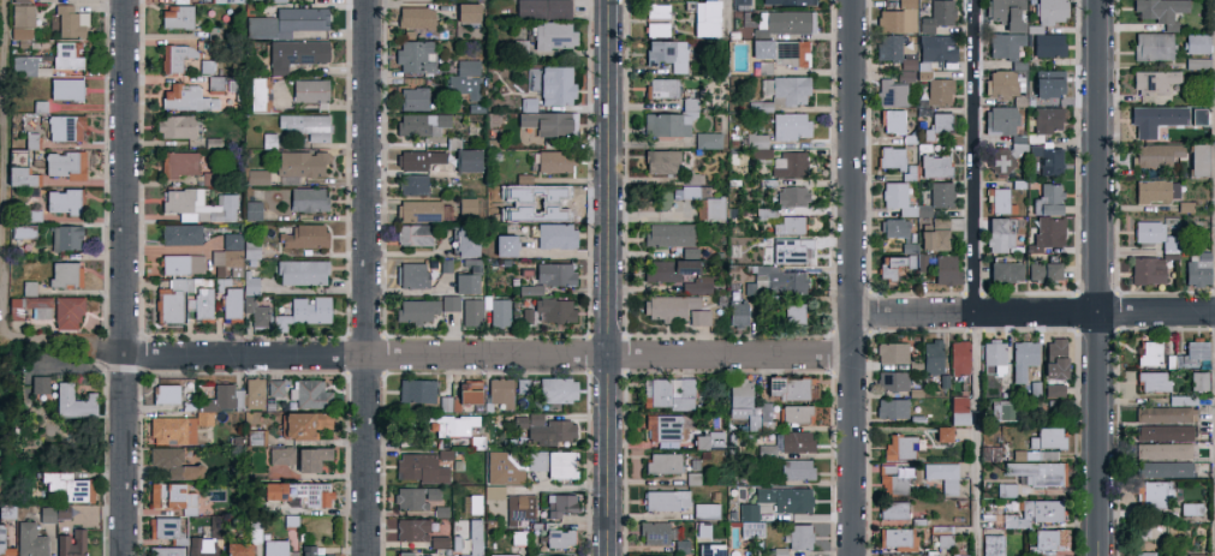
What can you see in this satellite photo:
building: (224, 0)
building: (20, 1)
building: (739, 1)
building: (790, 1)
building: (541, 8)
building: (655, 10)
building: (1050, 11)
building: (1159, 11)
building: (465, 12)
road: (727, 12)
building: (1005, 13)
building: (22, 14)
building: (174, 16)
building: (701, 16)
building: (936, 16)
building: (413, 17)
building: (898, 18)
building: (785, 20)
building: (69, 22)
building: (285, 22)
building: (654, 29)
building: (552, 35)
building: (22, 36)
building: (1046, 42)
building: (1196, 43)
building: (1003, 44)
building: (1151, 46)
building: (760, 47)
building: (887, 47)
building: (790, 52)
building: (294, 53)
building: (665, 53)
building: (62, 55)
building: (174, 55)
building: (927, 55)
building: (413, 56)
building: (1193, 62)
building: (23, 64)
building: (464, 80)
building: (1153, 80)
building: (1047, 82)
building: (1001, 83)
building: (555, 84)
building: (661, 86)
building: (64, 89)
building: (309, 90)
building: (787, 90)
building: (939, 91)
building: (256, 92)
building: (891, 92)
building: (185, 97)
building: (411, 98)
building: (476, 107)
building: (761, 107)
building: (1047, 119)
building: (669, 120)
building: (892, 120)
building: (1000, 120)
building: (418, 122)
building: (940, 122)
building: (1150, 122)
building: (554, 124)
building: (174, 125)
building: (304, 125)
building: (790, 125)
building: (64, 127)
building: (268, 139)
building: (707, 139)
building: (212, 142)
building: (757, 145)
building: (1155, 154)
road: (977, 156)
building: (889, 157)
building: (417, 159)
building: (465, 159)
building: (1048, 159)
building: (1197, 159)
building: (1001, 160)
building: (552, 161)
building: (660, 161)
building: (299, 162)
building: (177, 163)
building: (62, 165)
building: (790, 165)
building: (934, 166)
building: (18, 177)
building: (256, 177)
building: (692, 178)
building: (411, 184)
building: (1156, 190)
building: (689, 191)
building: (763, 192)
building: (940, 193)
building: (792, 196)
building: (305, 198)
building: (1048, 198)
building: (901, 199)
building: (61, 201)
building: (1000, 201)
building: (198, 205)
building: (464, 207)
building: (713, 208)
building: (252, 210)
building: (423, 210)
building: (766, 213)
building: (31, 215)
building: (791, 225)
building: (893, 227)
building: (22, 231)
building: (1048, 231)
road: (4, 232)
building: (179, 233)
building: (1000, 233)
building: (412, 234)
building: (554, 234)
building: (668, 234)
building: (1154, 234)
building: (304, 235)
building: (934, 235)
building: (64, 237)
building: (231, 240)
building: (464, 241)
building: (504, 244)
building: (249, 249)
building: (791, 253)
building: (225, 259)
building: (921, 261)
building: (181, 264)
building: (893, 264)
building: (1197, 268)
building: (667, 269)
building: (945, 270)
building: (1005, 270)
building: (1043, 270)
building: (1146, 270)
building: (300, 271)
building: (554, 273)
building: (64, 274)
building: (411, 275)
road: (125, 277)
road: (368, 277)
road: (606, 277)
road: (853, 277)
road: (1097, 277)
building: (780, 280)
building: (465, 281)
building: (249, 283)
building: (697, 285)
building: (28, 287)
building: (530, 289)
building: (228, 298)
building: (172, 299)
building: (199, 301)
building: (32, 305)
building: (667, 306)
building: (424, 307)
building: (498, 310)
building: (553, 310)
building: (303, 311)
building: (471, 311)
road: (1034, 311)
building: (66, 312)
building: (257, 312)
building: (792, 312)
building: (737, 313)
building: (525, 315)
building: (698, 317)
road: (483, 335)
road: (588, 348)
building: (891, 352)
building: (1148, 352)
road: (383, 353)
road: (489, 354)
building: (993, 354)
building: (1189, 354)
building: (930, 355)
building: (958, 357)
building: (1022, 358)
building: (1053, 359)
road: (486, 370)
building: (892, 379)
building: (1151, 381)
building: (1199, 381)
building: (36, 383)
building: (522, 384)
building: (792, 387)
building: (273, 388)
building: (1034, 388)
building: (555, 389)
building: (1053, 389)
building: (415, 390)
building: (499, 391)
building: (165, 393)
building: (251, 393)
building: (466, 393)
building: (669, 393)
building: (310, 394)
building: (738, 397)
building: (70, 401)
building: (216, 402)
building: (443, 403)
building: (891, 407)
building: (958, 409)
building: (1002, 409)
building: (766, 411)
building: (797, 413)
building: (1165, 414)
building: (752, 422)
building: (302, 424)
building: (449, 424)
building: (169, 429)
building: (543, 429)
building: (661, 430)
building: (1163, 431)
building: (940, 434)
road: (975, 434)
building: (1047, 437)
building: (708, 441)
building: (796, 441)
building: (899, 447)
building: (767, 450)
building: (1166, 450)
building: (989, 453)
building: (1046, 455)
building: (299, 458)
building: (172, 462)
building: (550, 462)
building: (662, 462)
building: (419, 467)
building: (501, 468)
building: (796, 468)
building: (1166, 468)
building: (1036, 473)
building: (942, 476)
building: (892, 478)
building: (67, 486)
building: (270, 490)
building: (1005, 490)
building: (493, 491)
building: (1156, 492)
building: (310, 494)
building: (413, 497)
building: (785, 498)
building: (665, 500)
building: (559, 504)
building: (519, 507)
building: (892, 509)
building: (6, 510)
building: (440, 510)
building: (705, 510)
building: (53, 512)
building: (1032, 513)
building: (749, 520)
building: (163, 527)
building: (410, 530)
building: (699, 530)
building: (1159, 530)
building: (653, 533)
building: (799, 536)
building: (472, 537)
building: (512, 537)
building: (0, 538)
building: (559, 538)
building: (897, 538)
building: (29, 540)
building: (439, 542)
building: (1048, 542)
building: (70, 543)
building: (680, 545)
building: (991, 545)
building: (198, 546)
building: (275, 548)
building: (234, 549)
building: (708, 550)
building: (163, 551)
building: (310, 551)
building: (780, 551)
building: (1144, 554)
building: (419, 555)
building: (500, 555)
building: (561, 555)
building: (651, 555)
building: (927, 555)
building: (958, 555)
building: (1018, 555)
building: (1196, 555)

